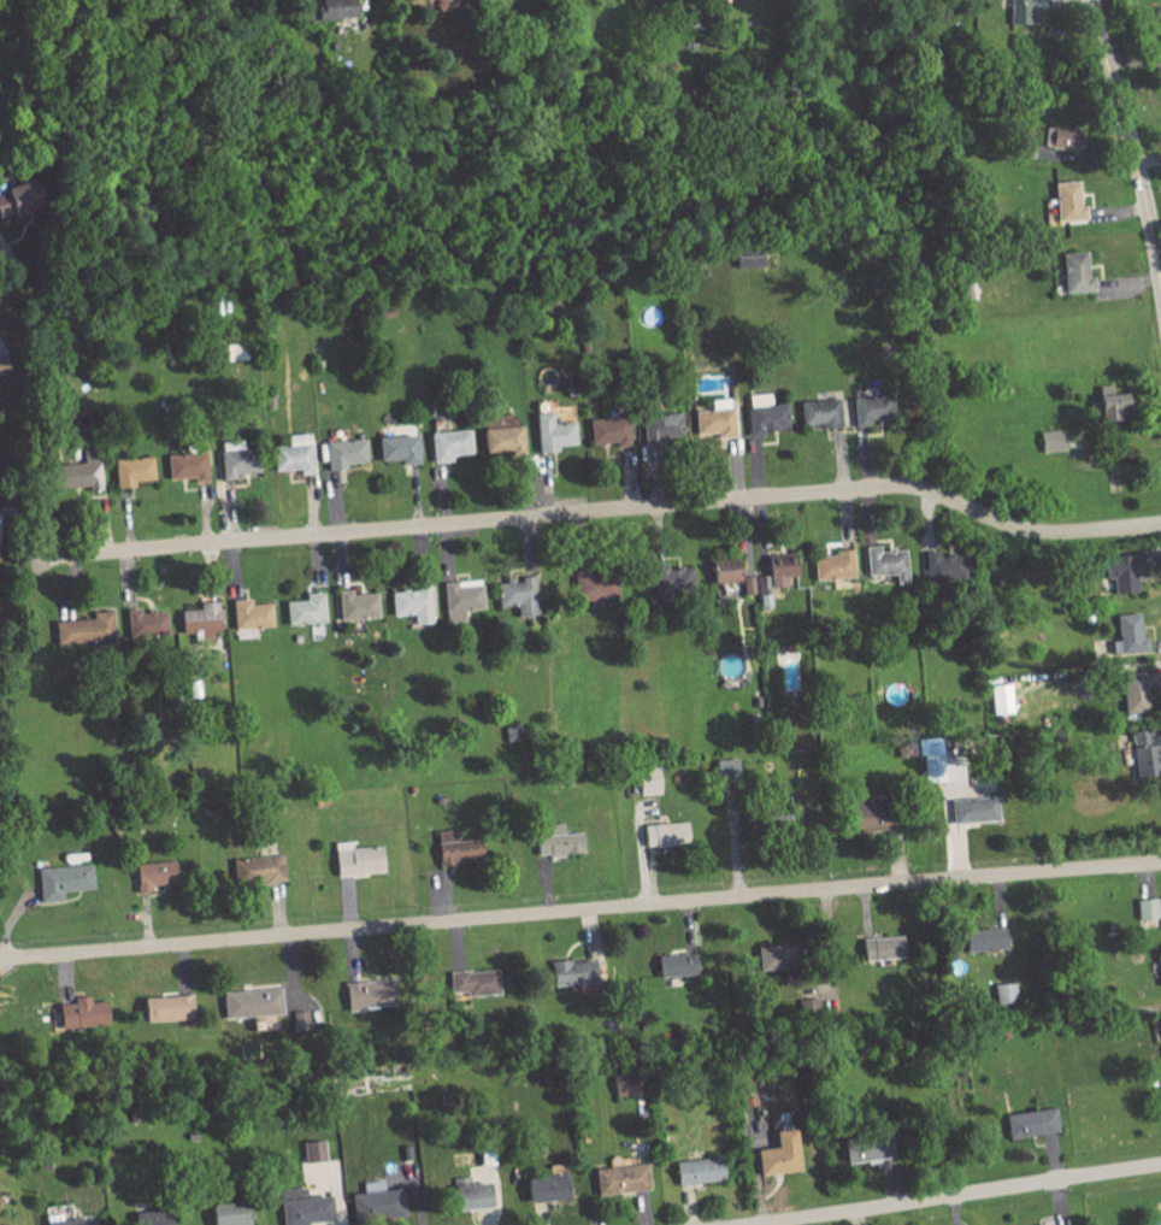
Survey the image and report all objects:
building: (413, 0)
building: (325, 11)
building: (1021, 12)
building: (1060, 137)
road: (1130, 142)
building: (17, 199)
building: (1067, 202)
building: (745, 257)
road: (18, 267)
building: (1074, 273)
building: (2, 365)
building: (1109, 405)
building: (871, 408)
building: (819, 411)
building: (764, 413)
building: (713, 420)
building: (659, 425)
building: (608, 431)
building: (550, 432)
building: (501, 438)
building: (1050, 440)
building: (447, 443)
building: (399, 444)
building: (342, 452)
building: (291, 453)
building: (235, 458)
building: (185, 465)
building: (130, 470)
building: (78, 473)
road: (606, 510)
building: (884, 561)
building: (943, 563)
building: (832, 564)
building: (779, 567)
building: (737, 571)
building: (1121, 571)
building: (671, 577)
building: (593, 585)
building: (517, 593)
building: (460, 597)
building: (411, 602)
building: (355, 603)
building: (305, 608)
building: (249, 613)
building: (177, 619)
building: (83, 628)
building: (1128, 634)
building: (1133, 690)
building: (998, 697)
building: (1156, 740)
building: (1143, 752)
building: (930, 759)
building: (725, 768)
building: (647, 781)
building: (973, 808)
building: (870, 815)
building: (664, 834)
building: (556, 841)
building: (455, 848)
building: (355, 859)
building: (153, 873)
building: (61, 879)
road: (580, 908)
building: (1147, 908)
building: (983, 938)
building: (882, 947)
building: (773, 956)
building: (674, 964)
building: (1159, 967)
building: (571, 972)
building: (471, 980)
building: (369, 993)
building: (1003, 993)
building: (249, 1002)
building: (165, 1007)
building: (81, 1012)
building: (1157, 1024)
building: (624, 1083)
building: (753, 1120)
building: (1030, 1123)
building: (866, 1147)
building: (312, 1150)
building: (778, 1154)
building: (699, 1170)
building: (620, 1178)
building: (544, 1188)
building: (470, 1195)
road: (950, 1195)
building: (375, 1202)
building: (302, 1207)
building: (226, 1213)
building: (155, 1219)
building: (64, 1220)

